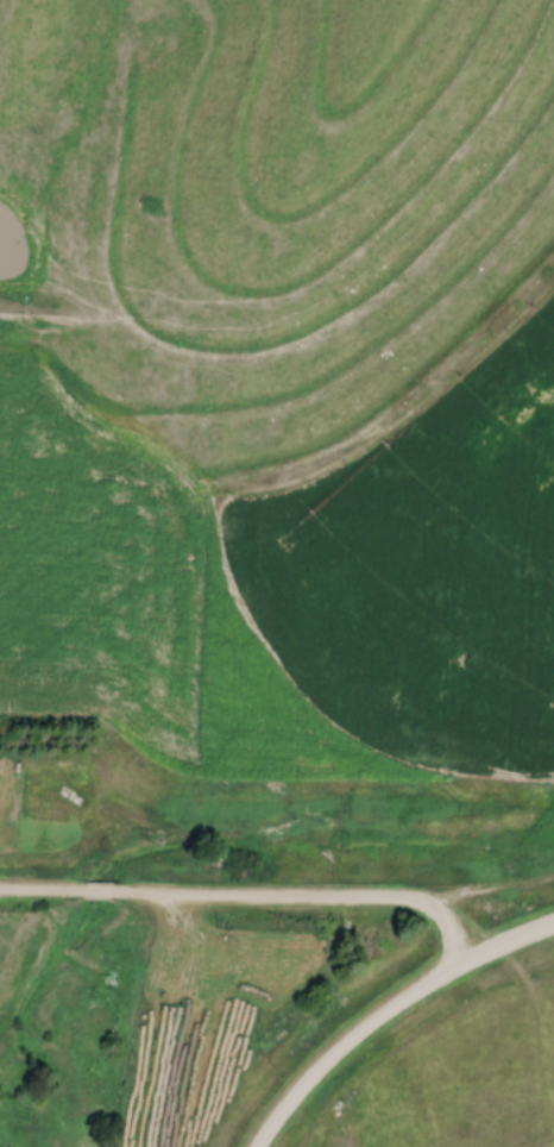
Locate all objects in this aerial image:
road: (251, 894)
road: (384, 1007)

